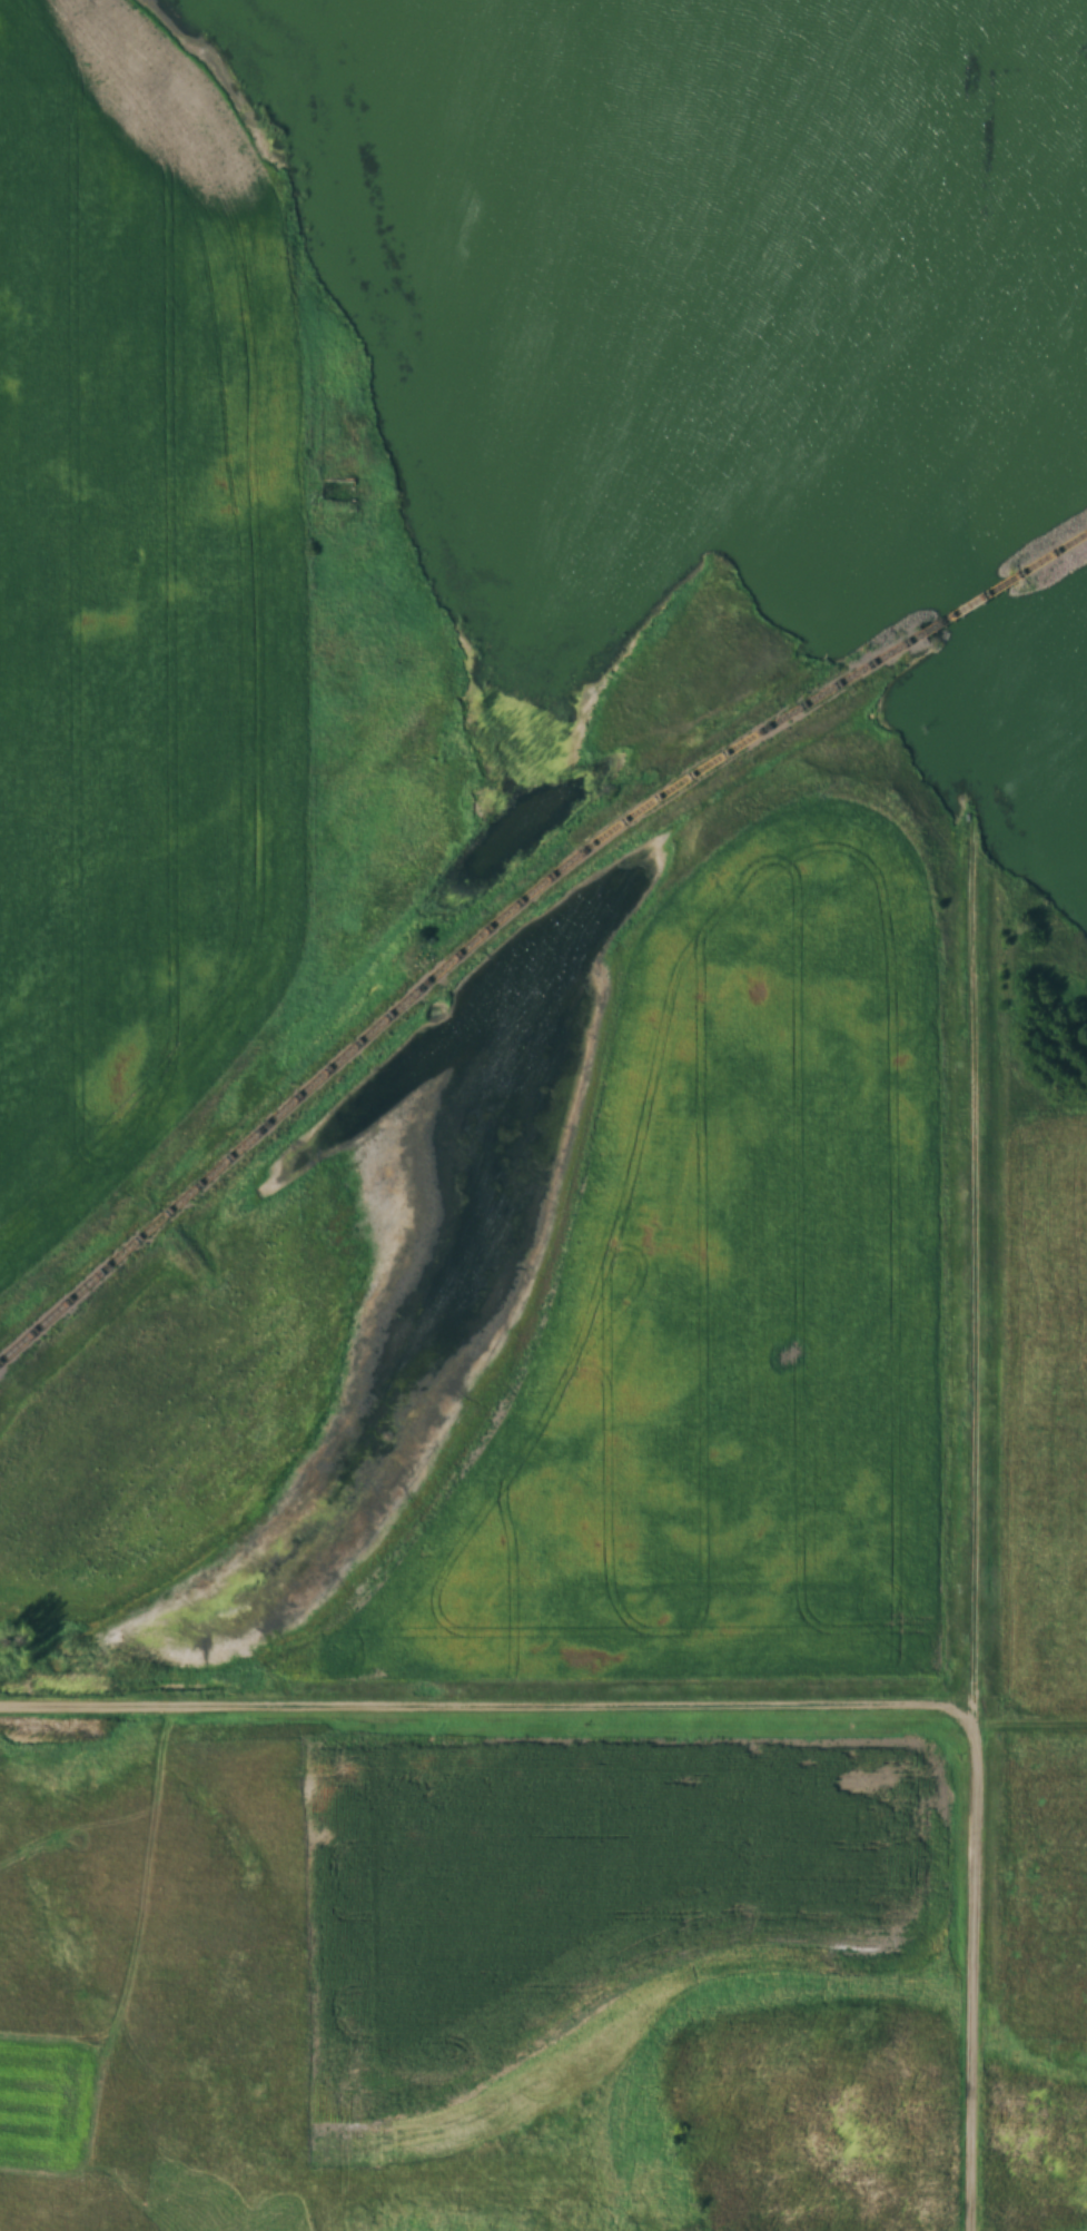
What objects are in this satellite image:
railway: (1059, 554)
railway: (982, 601)
railway: (447, 976)
road: (980, 1458)
road: (543, 1705)

